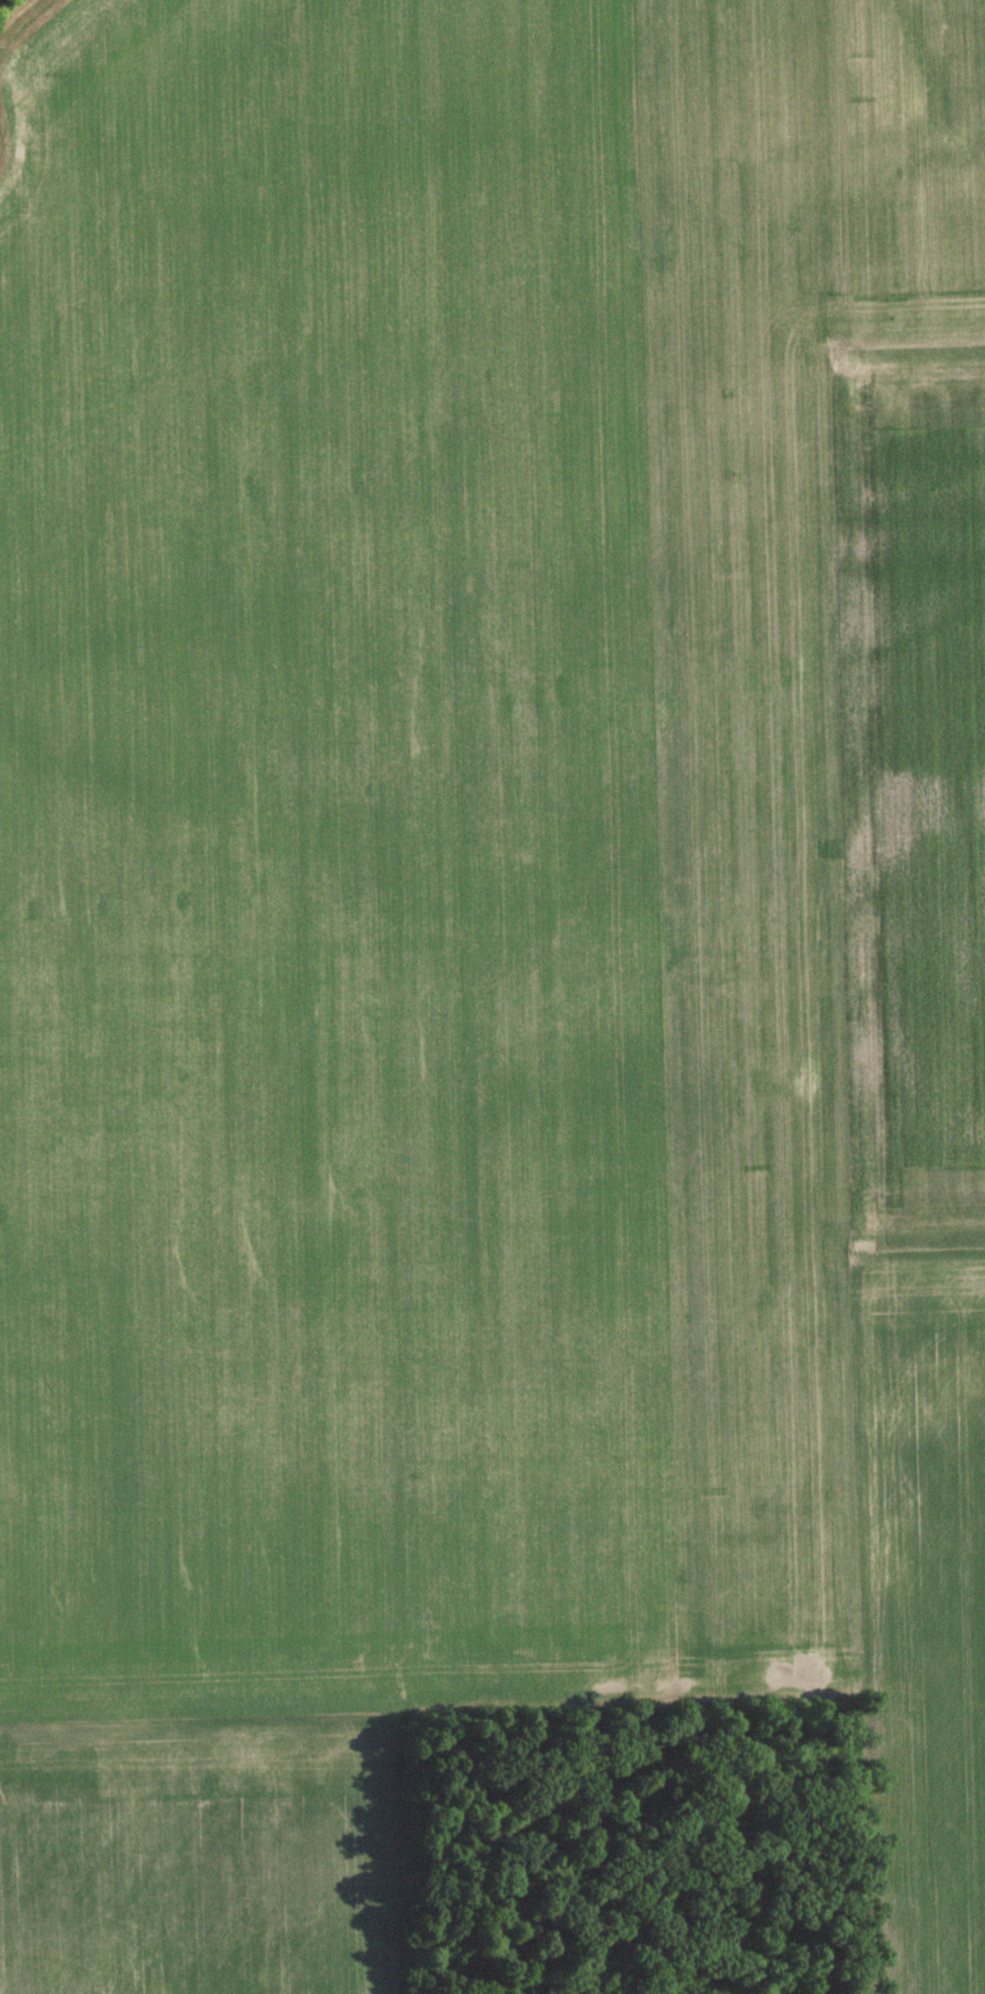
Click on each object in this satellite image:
crop: (911, 787)
crop: (436, 837)
crop: (919, 1618)
crop: (193, 1856)

